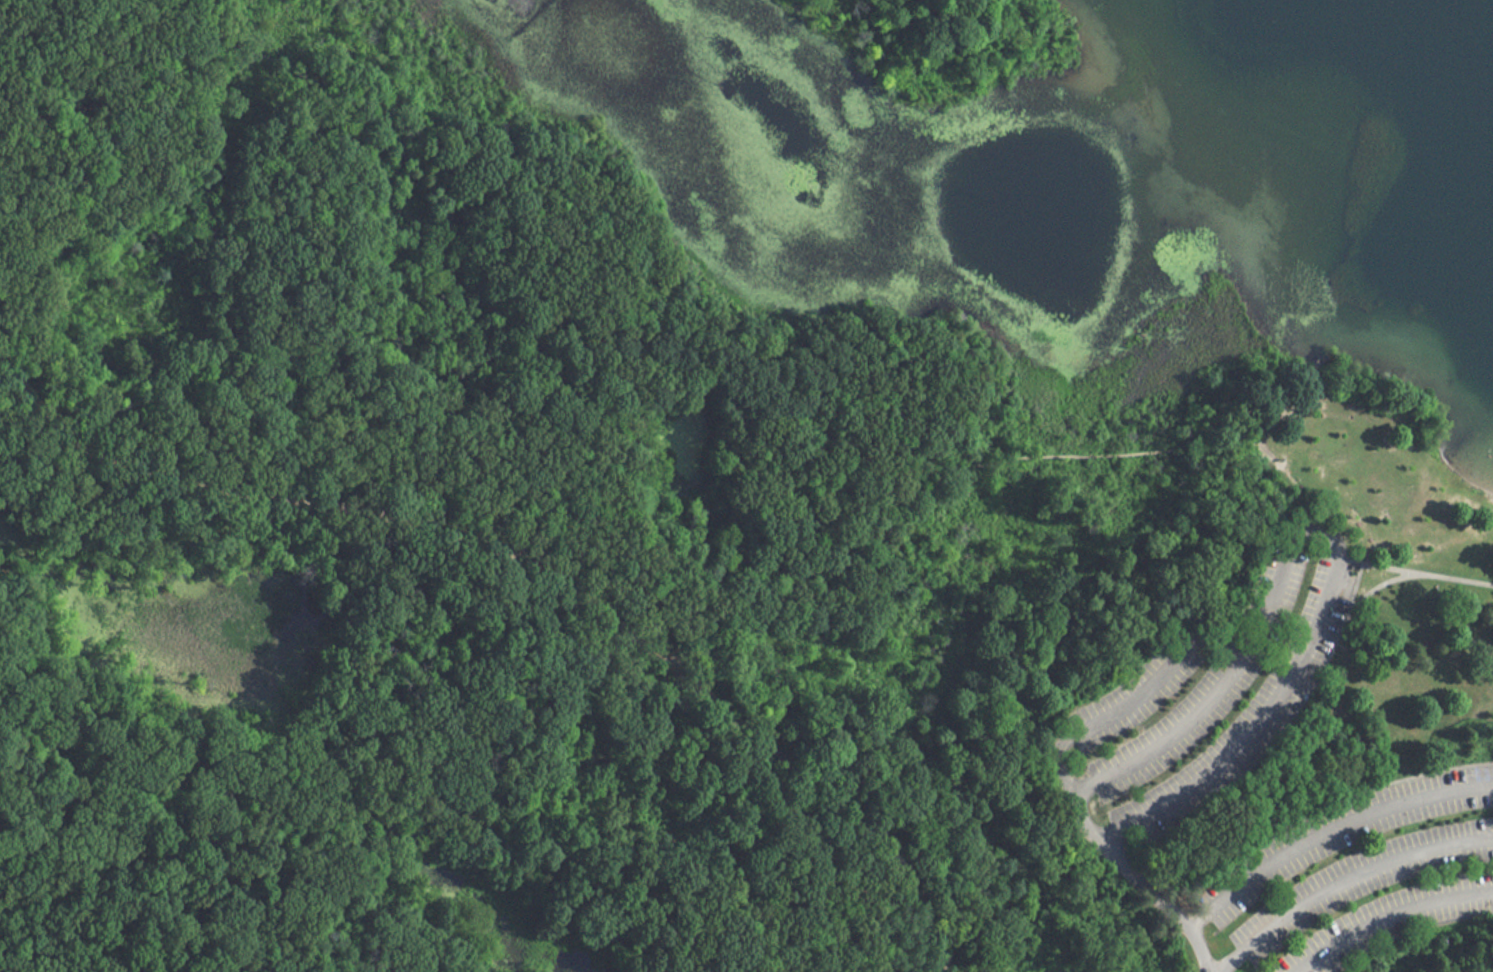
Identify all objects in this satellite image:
road: (203, 24)
road: (262, 54)
road: (490, 176)
road: (826, 337)
road: (570, 451)
road: (1088, 453)
road: (1266, 465)
road: (247, 476)
park: (693, 514)
road: (1315, 530)
road: (1414, 571)
road: (1378, 586)
road: (1131, 694)
parking lot: (1196, 702)
road: (1274, 739)
road: (761, 741)
road: (391, 766)
road: (1322, 811)
road: (1313, 842)
parking lot: (1361, 874)
road: (1346, 883)
road: (1143, 884)
road: (1393, 920)
road: (1411, 933)
road: (271, 953)

